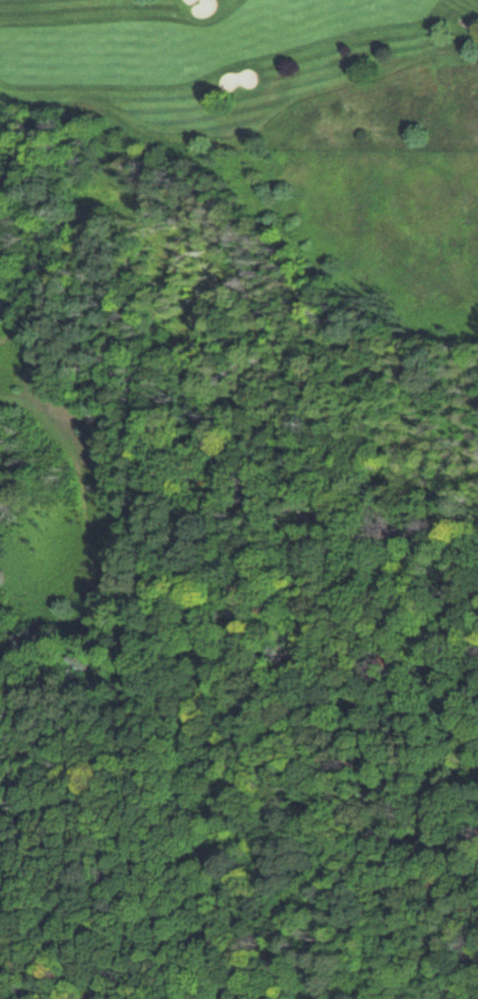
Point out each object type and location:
park: (239, 78)
road: (20, 308)
road: (136, 677)

